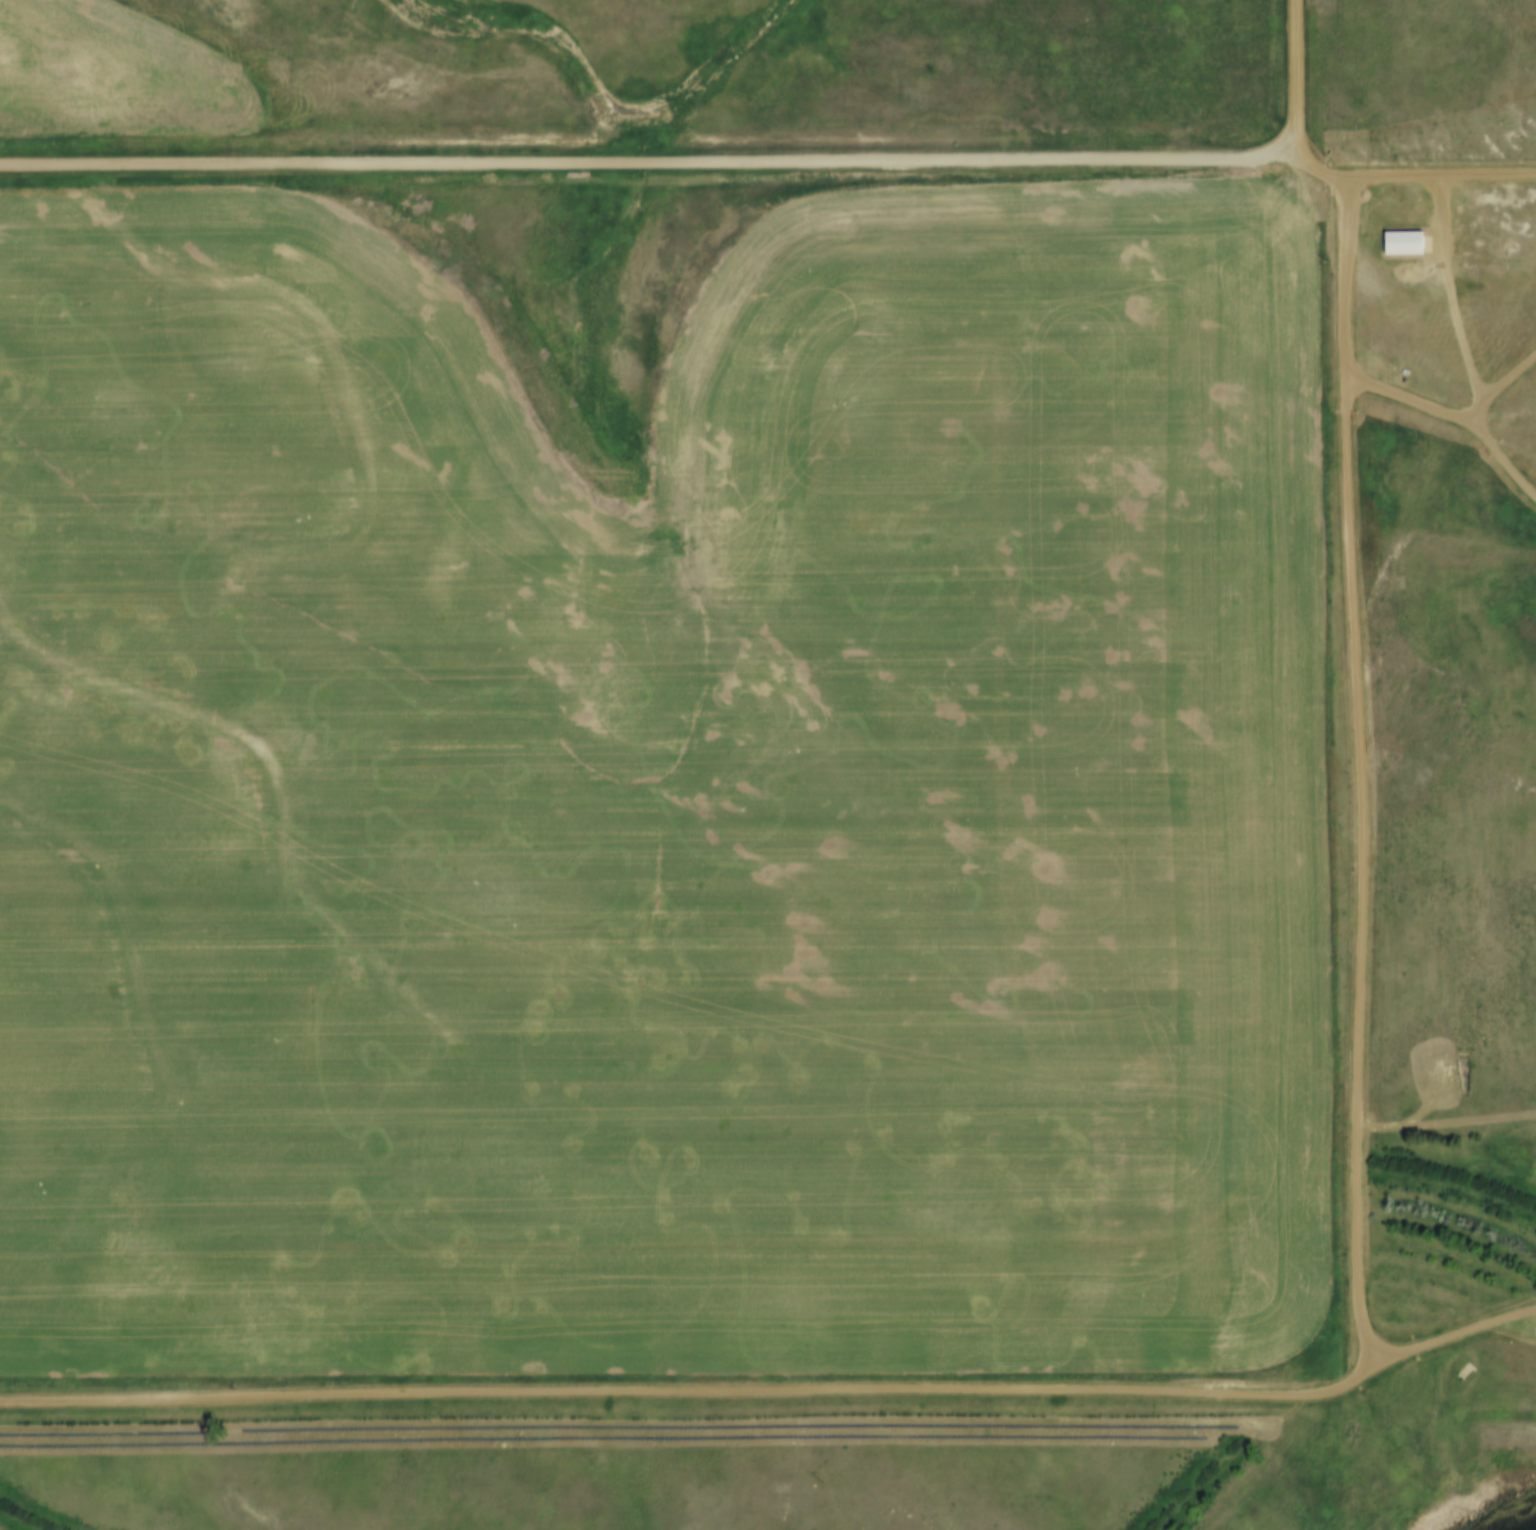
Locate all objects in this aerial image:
road: (1299, 73)
road: (649, 165)
road: (1406, 178)
road: (1445, 217)
building: (1410, 242)
road: (1460, 338)
road: (1507, 386)
road: (1458, 414)
road: (1517, 1096)
road: (1446, 1120)
road: (1454, 1336)
road: (1278, 1390)

